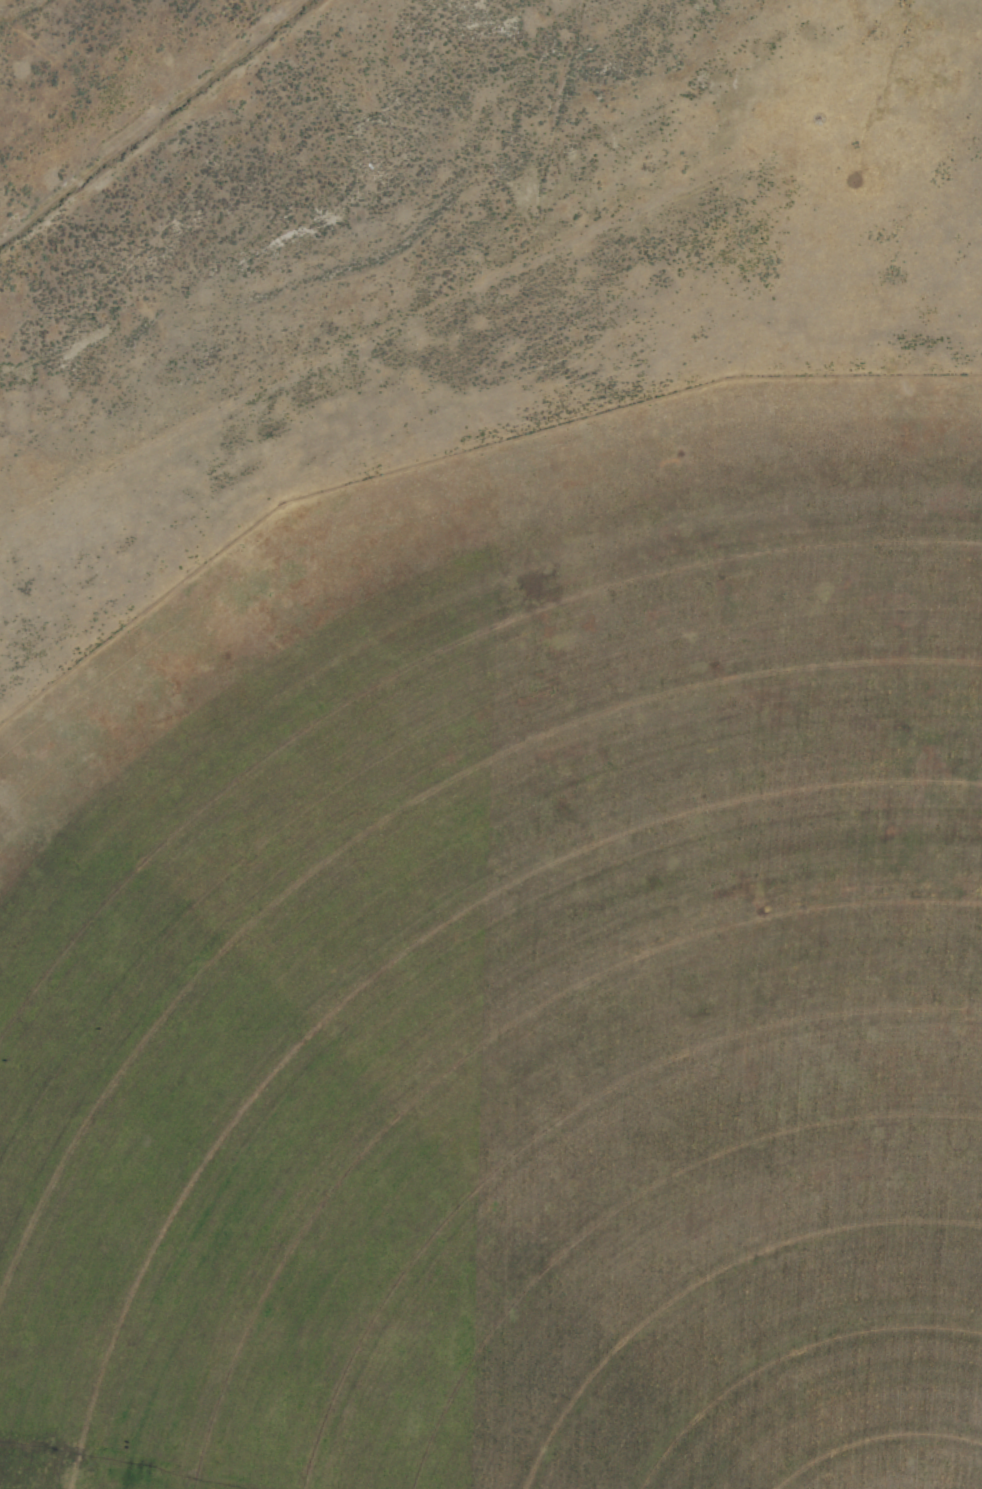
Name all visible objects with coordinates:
crop: (491, 744)

